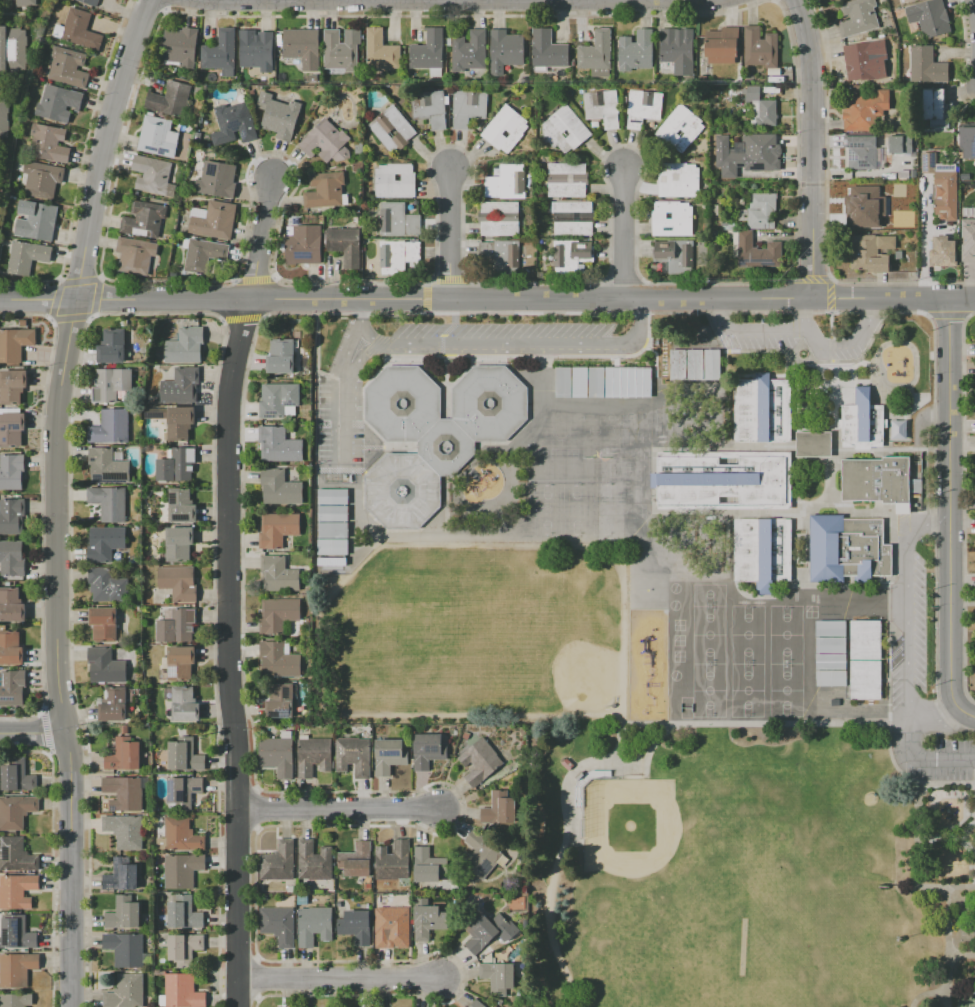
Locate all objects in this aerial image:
road: (356, 0)
building: (907, 1)
building: (89, 2)
building: (26, 3)
building: (858, 17)
building: (930, 18)
building: (79, 29)
building: (674, 43)
building: (179, 46)
building: (302, 47)
building: (723, 47)
building: (760, 48)
building: (13, 49)
building: (548, 49)
building: (342, 50)
building: (505, 50)
building: (257, 51)
building: (381, 51)
building: (427, 51)
building: (469, 51)
building: (636, 51)
building: (220, 53)
building: (597, 53)
building: (863, 59)
building: (926, 65)
building: (68, 67)
building: (753, 92)
building: (169, 98)
building: (58, 103)
building: (934, 103)
building: (468, 107)
building: (602, 107)
building: (429, 108)
building: (644, 110)
building: (863, 110)
building: (763, 112)
building: (279, 115)
building: (5, 117)
building: (233, 122)
building: (681, 128)
building: (391, 129)
building: (505, 129)
building: (563, 130)
building: (157, 137)
building: (48, 142)
building: (326, 142)
building: (968, 142)
building: (899, 144)
road: (103, 147)
road: (813, 149)
building: (860, 152)
building: (747, 153)
building: (566, 168)
building: (151, 174)
building: (913, 174)
building: (902, 176)
building: (42, 179)
building: (217, 179)
building: (678, 179)
building: (394, 180)
building: (506, 182)
building: (907, 186)
building: (324, 190)
building: (566, 190)
building: (907, 194)
building: (945, 195)
building: (859, 199)
building: (499, 207)
building: (571, 207)
building: (762, 211)
building: (144, 217)
building: (671, 218)
building: (397, 220)
building: (36, 221)
building: (215, 221)
building: (499, 228)
building: (573, 229)
building: (967, 232)
road: (626, 233)
road: (450, 234)
road: (922, 238)
road: (263, 239)
building: (303, 245)
building: (344, 245)
building: (757, 252)
building: (871, 252)
building: (942, 252)
building: (135, 254)
building: (399, 255)
building: (560, 255)
building: (580, 255)
building: (507, 257)
building: (26, 258)
building: (207, 258)
building: (679, 259)
road: (37, 299)
road: (524, 300)
road: (798, 314)
road: (799, 329)
road: (502, 341)
building: (14, 343)
building: (111, 346)
building: (185, 347)
building: (281, 356)
building: (695, 365)
building: (603, 382)
building: (111, 385)
building: (12, 386)
building: (181, 386)
road: (349, 393)
building: (280, 400)
building: (764, 411)
building: (175, 421)
building: (862, 421)
building: (110, 427)
building: (11, 429)
building: (898, 429)
building: (433, 435)
building: (812, 444)
building: (279, 445)
building: (177, 464)
building: (106, 466)
building: (11, 471)
building: (877, 479)
building: (722, 480)
building: (279, 488)
road: (951, 498)
building: (109, 503)
building: (331, 504)
building: (181, 506)
park: (547, 509)
park: (577, 509)
park: (607, 509)
road: (55, 514)
building: (11, 516)
building: (277, 529)
building: (331, 530)
building: (179, 535)
building: (105, 542)
building: (331, 546)
building: (847, 549)
building: (762, 551)
building: (178, 553)
road: (365, 553)
building: (12, 558)
building: (330, 561)
building: (278, 574)
building: (178, 583)
building: (107, 585)
park: (709, 595)
building: (11, 606)
road: (911, 606)
building: (278, 614)
building: (103, 624)
building: (177, 626)
building: (786, 628)
park: (709, 635)
park: (747, 635)
park: (786, 635)
building: (786, 645)
building: (10, 648)
parking lot: (911, 649)
road: (231, 651)
building: (831, 653)
park: (562, 659)
building: (278, 660)
building: (865, 660)
building: (974, 660)
building: (786, 661)
building: (180, 663)
building: (105, 666)
building: (786, 678)
building: (12, 687)
park: (709, 690)
park: (747, 690)
park: (786, 690)
building: (786, 694)
building: (827, 694)
building: (279, 700)
building: (113, 704)
building: (184, 704)
road: (958, 712)
road: (933, 715)
road: (33, 733)
building: (428, 750)
building: (123, 755)
building: (184, 755)
building: (277, 755)
building: (313, 756)
building: (353, 756)
building: (388, 756)
road: (624, 756)
road: (922, 760)
parking lot: (938, 760)
building: (479, 761)
building: (567, 764)
building: (17, 776)
road: (944, 785)
building: (182, 792)
building: (123, 794)
road: (965, 794)
building: (499, 808)
building: (15, 811)
road: (338, 813)
road: (956, 827)
building: (124, 831)
building: (181, 835)
park: (642, 836)
road: (964, 837)
road: (939, 838)
building: (16, 855)
building: (480, 855)
building: (356, 860)
building: (314, 861)
building: (392, 861)
building: (278, 862)
building: (427, 866)
park: (755, 867)
road: (971, 867)
road: (71, 869)
building: (182, 870)
building: (120, 875)
road: (919, 876)
road: (959, 889)
building: (17, 891)
building: (183, 912)
building: (123, 913)
building: (427, 919)
building: (278, 924)
building: (313, 925)
building: (391, 925)
building: (356, 926)
building: (486, 931)
park: (747, 931)
building: (17, 933)
building: (184, 946)
building: (125, 949)
building: (17, 969)
road: (946, 974)
building: (499, 978)
road: (339, 980)
park: (839, 987)
building: (125, 992)
building: (181, 992)
road: (930, 993)
building: (11, 1000)
park: (965, 1000)
building: (476, 1004)

